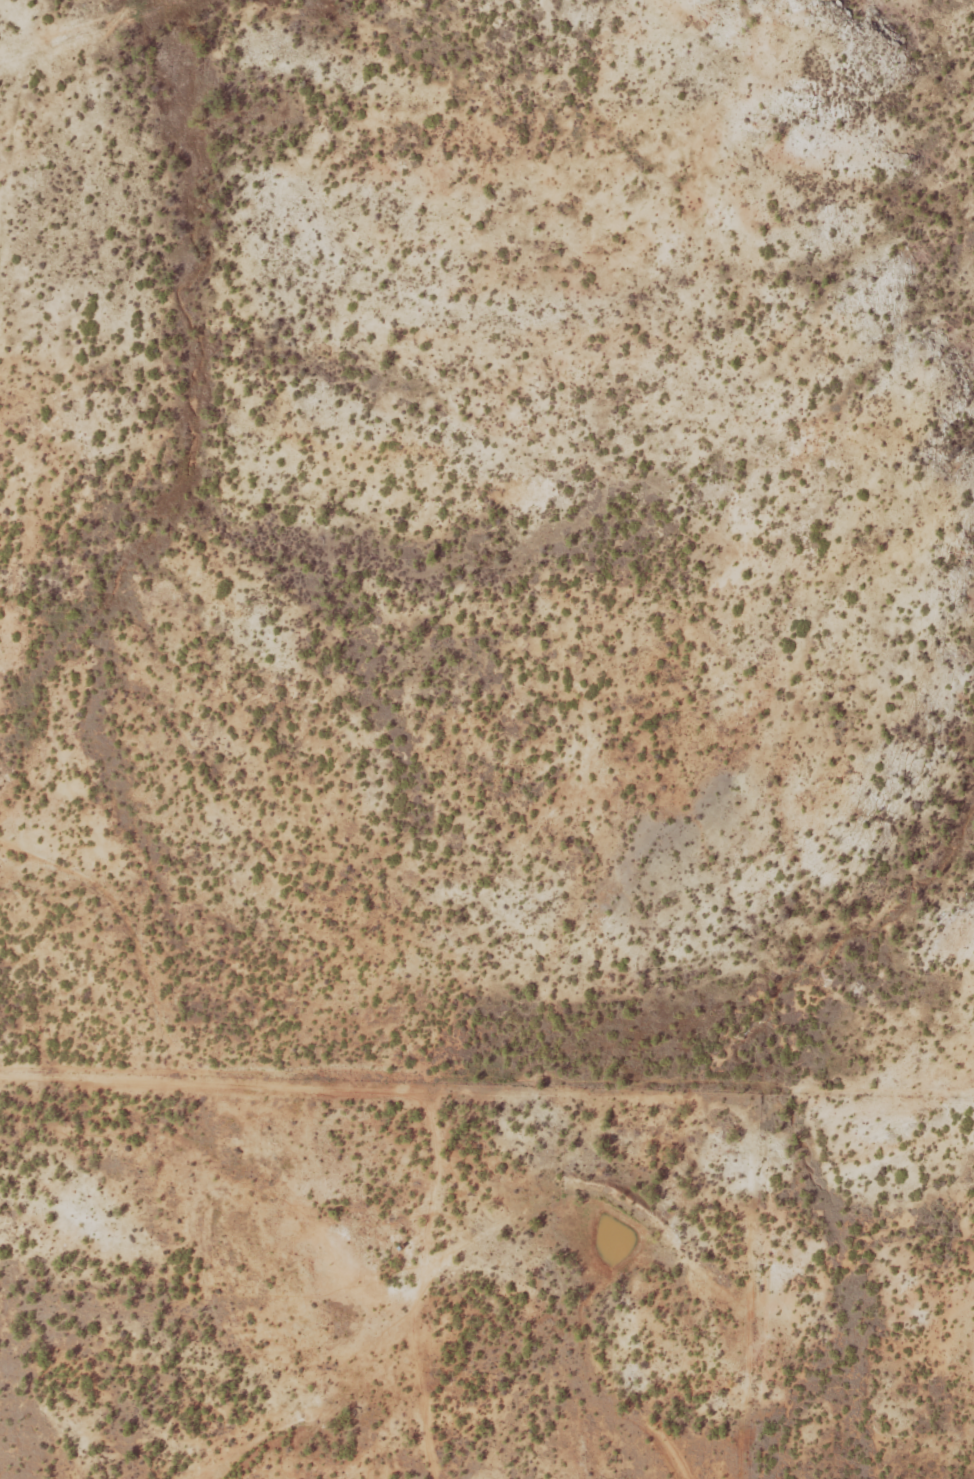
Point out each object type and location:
road: (42, 59)
road: (97, 945)
road: (486, 1083)
road: (761, 1288)

